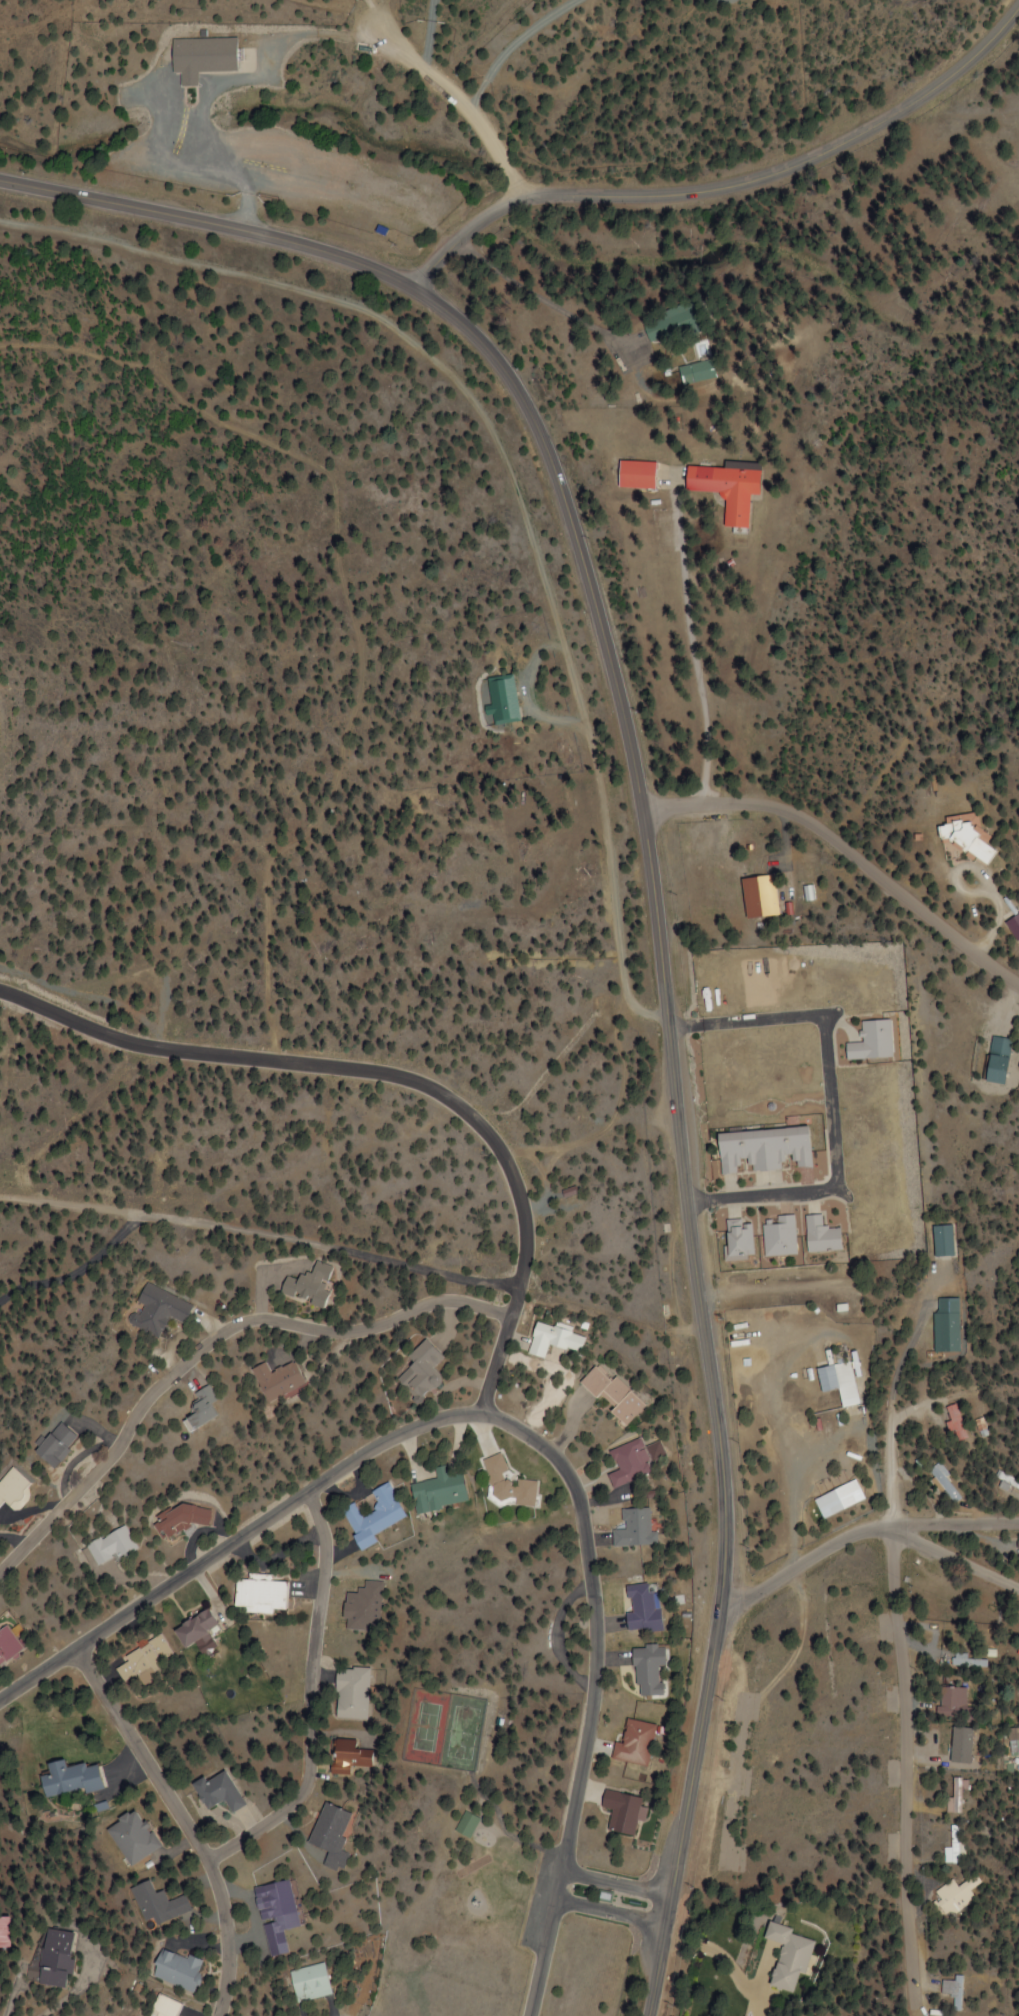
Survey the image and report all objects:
road: (51, 8)
building: (201, 57)
road: (936, 60)
road: (709, 174)
building: (668, 323)
building: (695, 372)
building: (635, 475)
building: (724, 490)
building: (962, 838)
road: (846, 852)
building: (759, 897)
road: (656, 910)
building: (872, 1042)
building: (992, 1061)
road: (341, 1068)
building: (763, 1150)
building: (821, 1236)
building: (779, 1237)
building: (737, 1238)
building: (940, 1241)
building: (306, 1286)
building: (159, 1310)
building: (944, 1326)
building: (552, 1341)
road: (211, 1343)
road: (498, 1363)
building: (420, 1371)
building: (276, 1381)
building: (839, 1383)
building: (611, 1397)
building: (201, 1409)
building: (954, 1424)
road: (523, 1433)
building: (52, 1444)
building: (627, 1464)
road: (891, 1474)
building: (943, 1484)
building: (11, 1488)
building: (508, 1488)
building: (436, 1492)
building: (371, 1517)
building: (179, 1520)
road: (955, 1527)
building: (633, 1529)
building: (107, 1545)
road: (955, 1559)
building: (258, 1594)
building: (639, 1609)
building: (193, 1629)
building: (8, 1645)
building: (142, 1660)
road: (898, 1660)
building: (966, 1662)
building: (646, 1669)
building: (352, 1694)
road: (311, 1698)
building: (950, 1702)
building: (634, 1743)
building: (347, 1756)
building: (68, 1779)
building: (219, 1792)
building: (621, 1812)
road: (186, 1822)
building: (469, 1823)
building: (330, 1836)
building: (132, 1838)
road: (616, 1885)
building: (954, 1896)
building: (158, 1905)
road: (610, 1914)
building: (275, 1915)
building: (5, 1932)
building: (786, 1957)
building: (55, 1958)
building: (176, 1969)
building: (309, 1983)
building: (953, 1992)
building: (163, 2007)

